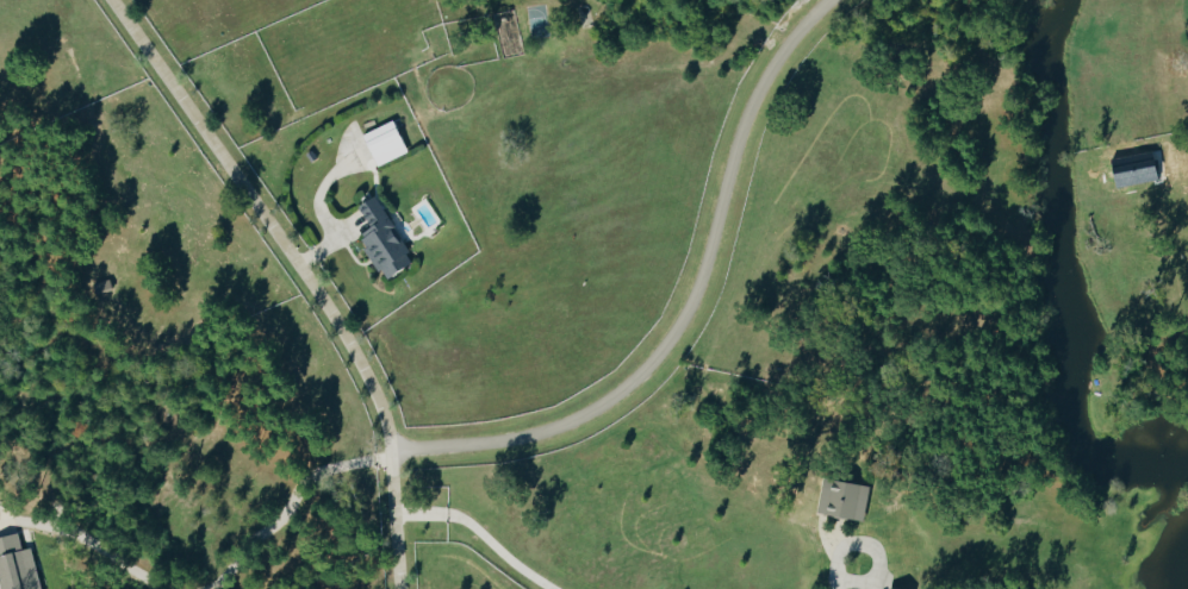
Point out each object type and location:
building: (385, 140)
building: (382, 238)
road: (306, 274)
building: (102, 283)
road: (688, 312)
building: (844, 497)
road: (296, 507)
road: (481, 531)
road: (88, 543)
building: (17, 564)
building: (892, 588)

